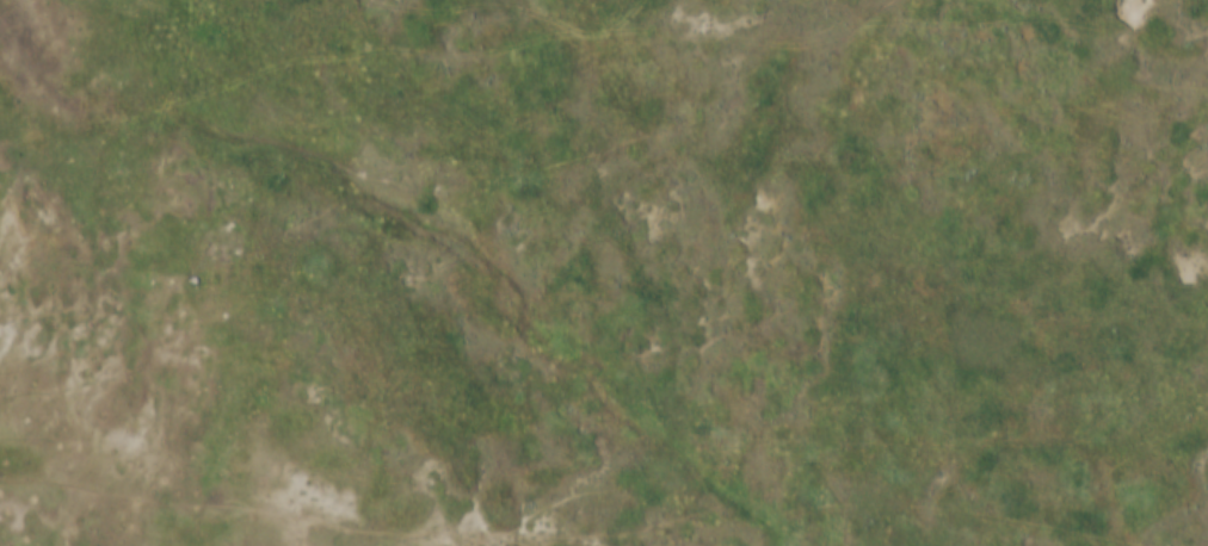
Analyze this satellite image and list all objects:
road: (273, 494)

